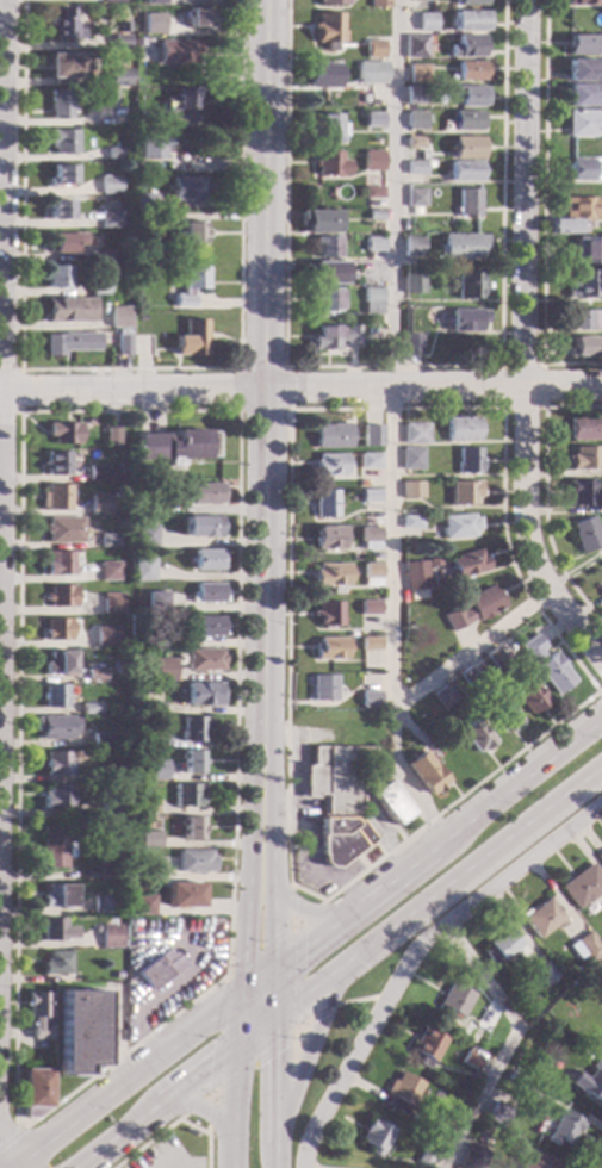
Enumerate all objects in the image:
building: (417, 0)
building: (112, 1)
building: (153, 1)
building: (581, 1)
building: (330, 2)
building: (470, 2)
building: (378, 4)
building: (197, 17)
building: (471, 18)
building: (423, 21)
building: (64, 25)
building: (122, 26)
building: (156, 29)
building: (327, 30)
building: (119, 41)
building: (139, 43)
building: (582, 44)
building: (466, 45)
building: (414, 46)
building: (373, 49)
building: (176, 50)
building: (64, 66)
building: (373, 67)
building: (470, 70)
building: (582, 70)
building: (417, 73)
building: (321, 74)
building: (118, 76)
building: (466, 94)
building: (582, 94)
building: (414, 95)
building: (108, 99)
building: (60, 104)
building: (173, 107)
building: (372, 119)
building: (414, 119)
building: (465, 120)
building: (583, 123)
building: (329, 128)
building: (63, 141)
building: (412, 142)
building: (150, 147)
building: (465, 147)
building: (116, 153)
building: (420, 156)
building: (372, 160)
building: (329, 163)
building: (427, 163)
building: (415, 167)
building: (463, 170)
building: (582, 170)
building: (62, 175)
building: (110, 185)
building: (186, 187)
building: (371, 192)
building: (414, 199)
building: (466, 201)
building: (143, 203)
building: (581, 207)
building: (58, 210)
road: (544, 211)
building: (373, 215)
building: (113, 219)
building: (168, 219)
building: (317, 220)
building: (565, 226)
building: (190, 236)
building: (66, 241)
building: (372, 243)
building: (460, 246)
building: (324, 247)
building: (411, 247)
building: (587, 249)
building: (101, 255)
road: (2, 259)
building: (325, 272)
building: (57, 277)
building: (186, 284)
building: (412, 284)
building: (583, 284)
building: (467, 285)
building: (99, 286)
building: (325, 299)
building: (371, 300)
building: (68, 309)
building: (118, 317)
building: (464, 319)
building: (583, 319)
building: (361, 331)
building: (333, 336)
building: (190, 337)
road: (263, 341)
building: (70, 342)
building: (122, 342)
building: (410, 343)
building: (142, 344)
road: (523, 344)
building: (581, 346)
road: (541, 365)
road: (390, 367)
road: (129, 368)
road: (300, 387)
road: (21, 389)
road: (241, 411)
building: (461, 428)
building: (585, 428)
building: (63, 431)
building: (415, 433)
building: (333, 435)
building: (372, 435)
building: (111, 436)
road: (392, 441)
building: (176, 446)
building: (411, 458)
building: (583, 458)
building: (368, 460)
building: (467, 460)
building: (56, 464)
building: (329, 464)
building: (97, 472)
building: (361, 483)
building: (410, 490)
building: (201, 492)
building: (463, 492)
building: (581, 492)
building: (370, 495)
building: (57, 496)
road: (544, 497)
building: (324, 503)
building: (99, 507)
building: (143, 509)
building: (134, 518)
building: (410, 522)
building: (458, 524)
building: (198, 526)
building: (63, 529)
building: (584, 534)
building: (143, 535)
building: (328, 538)
building: (368, 538)
building: (108, 540)
building: (205, 559)
building: (432, 561)
building: (57, 563)
building: (466, 564)
building: (139, 569)
building: (107, 571)
building: (371, 573)
road: (288, 574)
building: (331, 576)
building: (414, 576)
building: (601, 590)
building: (205, 592)
building: (60, 596)
building: (153, 602)
building: (112, 603)
building: (368, 608)
building: (473, 608)
building: (328, 614)
building: (205, 626)
building: (56, 628)
building: (105, 635)
building: (88, 640)
building: (368, 644)
building: (329, 647)
building: (494, 658)
building: (201, 659)
building: (58, 661)
building: (545, 664)
building: (161, 669)
building: (95, 675)
building: (467, 677)
building: (322, 688)
road: (600, 690)
building: (200, 694)
building: (52, 695)
building: (442, 696)
building: (529, 696)
building: (368, 698)
building: (88, 708)
building: (150, 708)
building: (501, 715)
building: (54, 726)
building: (188, 728)
building: (474, 735)
building: (100, 740)
building: (153, 740)
building: (190, 762)
building: (56, 763)
road: (399, 770)
building: (423, 772)
building: (97, 774)
building: (151, 775)
building: (336, 777)
building: (184, 795)
building: (56, 796)
building: (386, 802)
building: (110, 804)
building: (145, 806)
road: (268, 822)
building: (138, 826)
building: (190, 828)
road: (248, 835)
road: (439, 837)
building: (340, 839)
building: (145, 841)
building: (54, 846)
building: (600, 857)
building: (192, 861)
building: (148, 869)
building: (107, 870)
building: (581, 886)
road: (437, 893)
building: (181, 894)
building: (57, 895)
building: (100, 903)
building: (141, 905)
road: (291, 905)
road: (308, 911)
building: (541, 918)
building: (119, 919)
building: (54, 930)
building: (108, 936)
traffic signals: (302, 943)
building: (501, 946)
building: (583, 948)
road: (410, 952)
traffic signals: (241, 953)
road: (194, 955)
building: (55, 963)
building: (157, 969)
building: (541, 973)
building: (93, 974)
road: (256, 977)
road: (274, 990)
building: (453, 999)
road: (359, 1000)
building: (37, 1014)
road: (314, 1015)
road: (236, 1019)
building: (79, 1031)
building: (470, 1032)
road: (149, 1033)
road: (254, 1033)
road: (505, 1042)
building: (426, 1046)
road: (309, 1052)
building: (583, 1052)
traffic signals: (274, 1055)
building: (468, 1061)
traffic signals: (209, 1067)
road: (120, 1077)
building: (515, 1079)
building: (588, 1082)
road: (216, 1088)
building: (35, 1092)
road: (274, 1093)
building: (398, 1093)
road: (205, 1107)
road: (231, 1107)
road: (154, 1108)
road: (209, 1111)
building: (496, 1113)
road: (172, 1122)
building: (445, 1122)
building: (560, 1127)
building: (480, 1131)
road: (11, 1136)
building: (373, 1136)
road: (5, 1156)
parking lot: (163, 1156)
building: (471, 1156)
building: (423, 1157)
building: (535, 1161)
road: (167, 1167)

